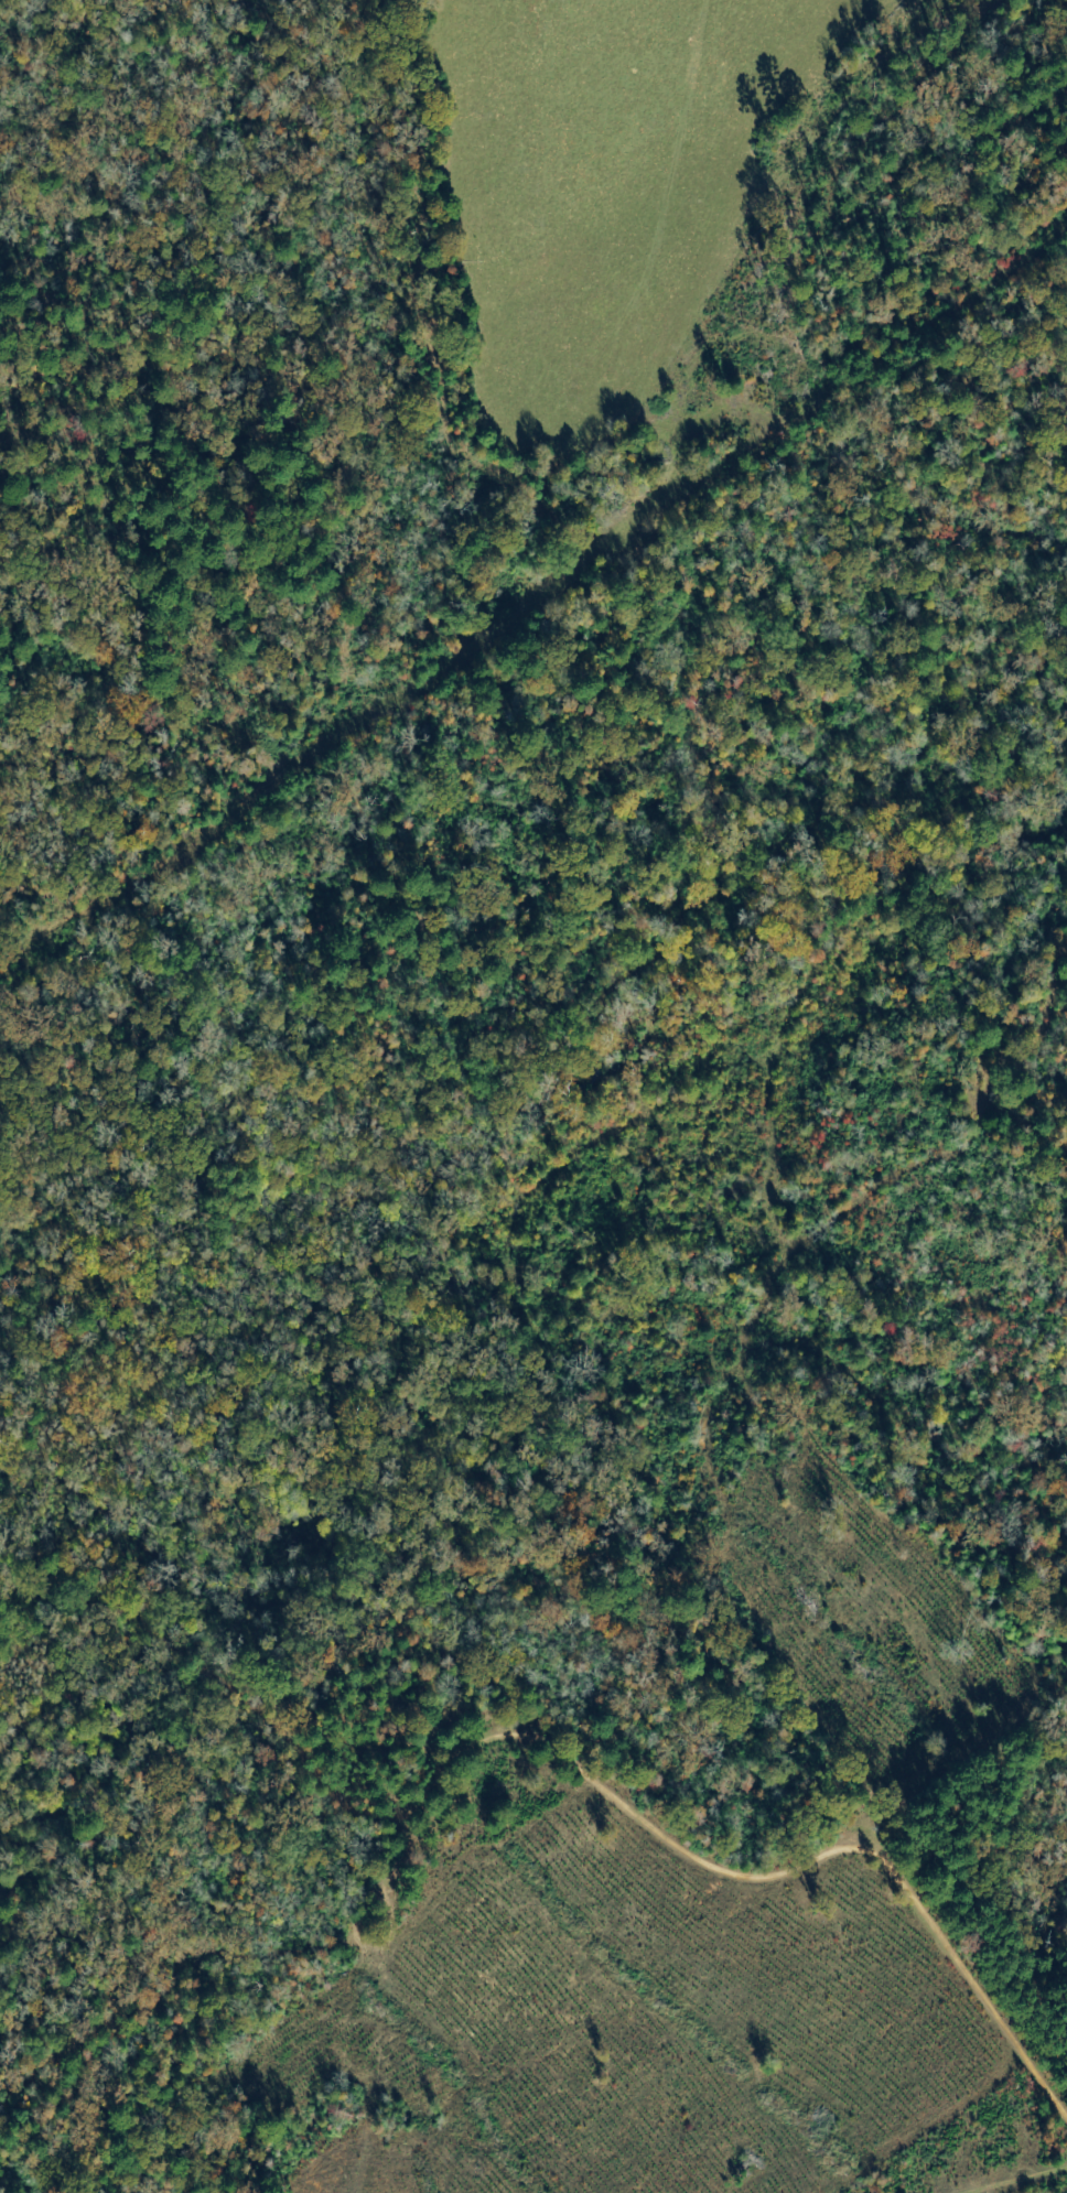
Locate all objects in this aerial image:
road: (928, 1780)
road: (865, 1960)

